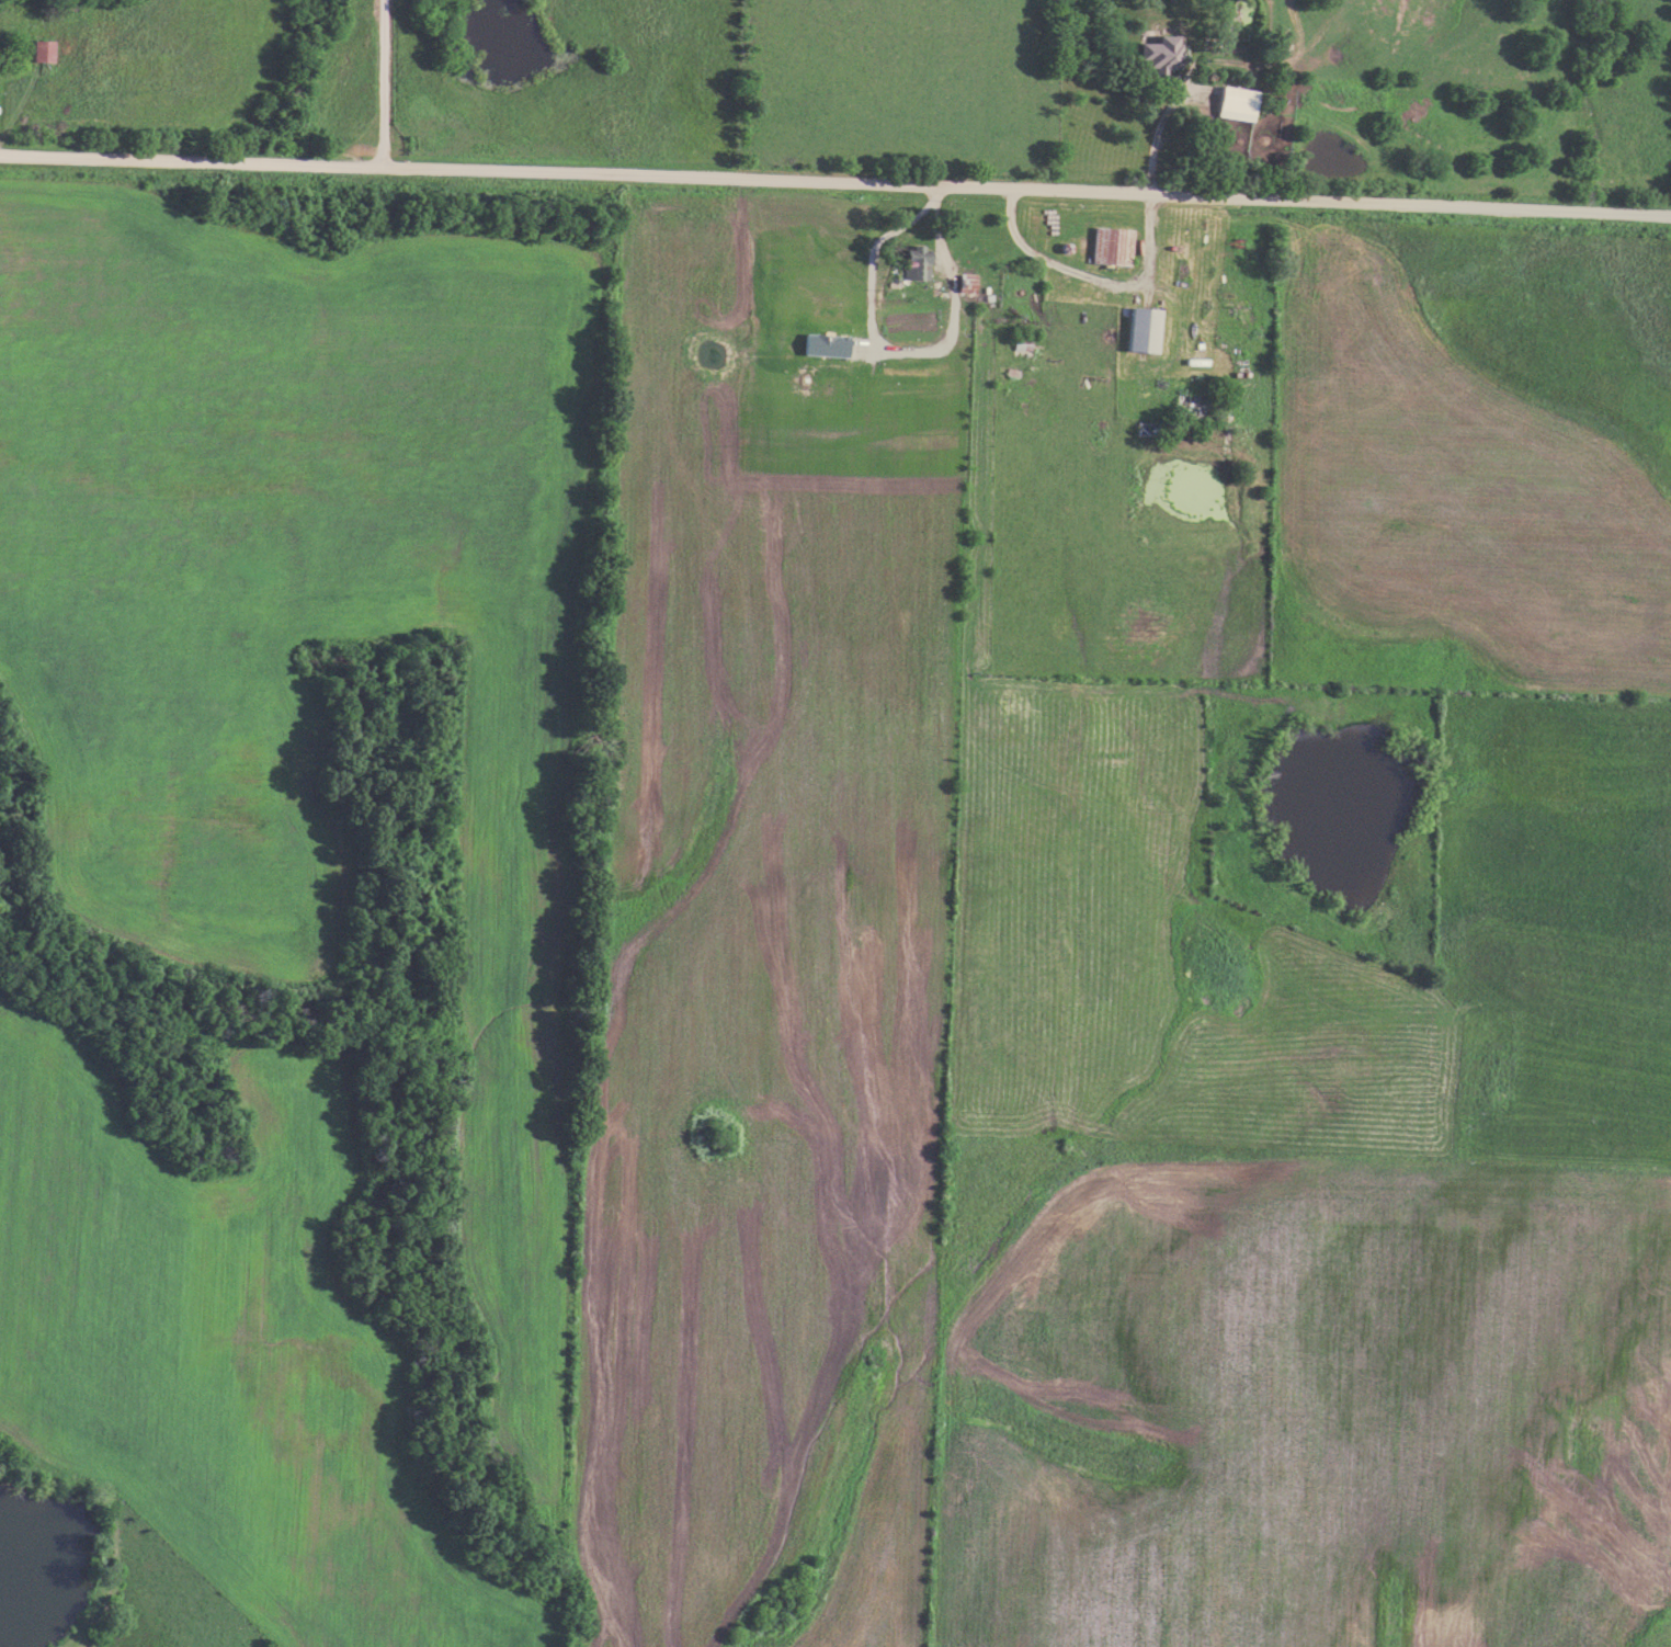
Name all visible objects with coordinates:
building: (43, 52)
building: (1164, 55)
road: (387, 83)
building: (1241, 104)
road: (1159, 118)
road: (835, 180)
building: (1114, 247)
building: (916, 263)
road: (1087, 275)
building: (1145, 329)
building: (1023, 342)

